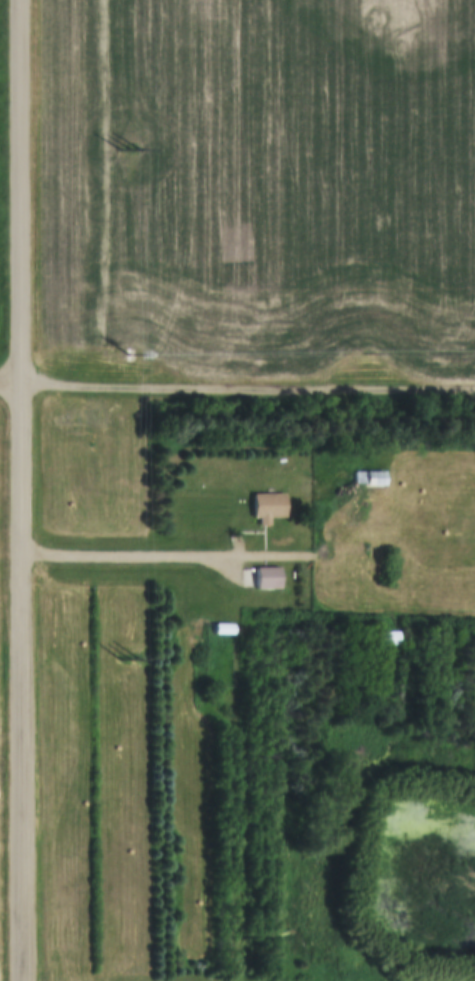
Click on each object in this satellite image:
power tower: (128, 155)
road: (11, 391)
road: (248, 394)
building: (368, 480)
road: (22, 490)
building: (268, 507)
road: (219, 559)
building: (261, 580)
building: (223, 631)
building: (388, 639)
power tower: (132, 654)

